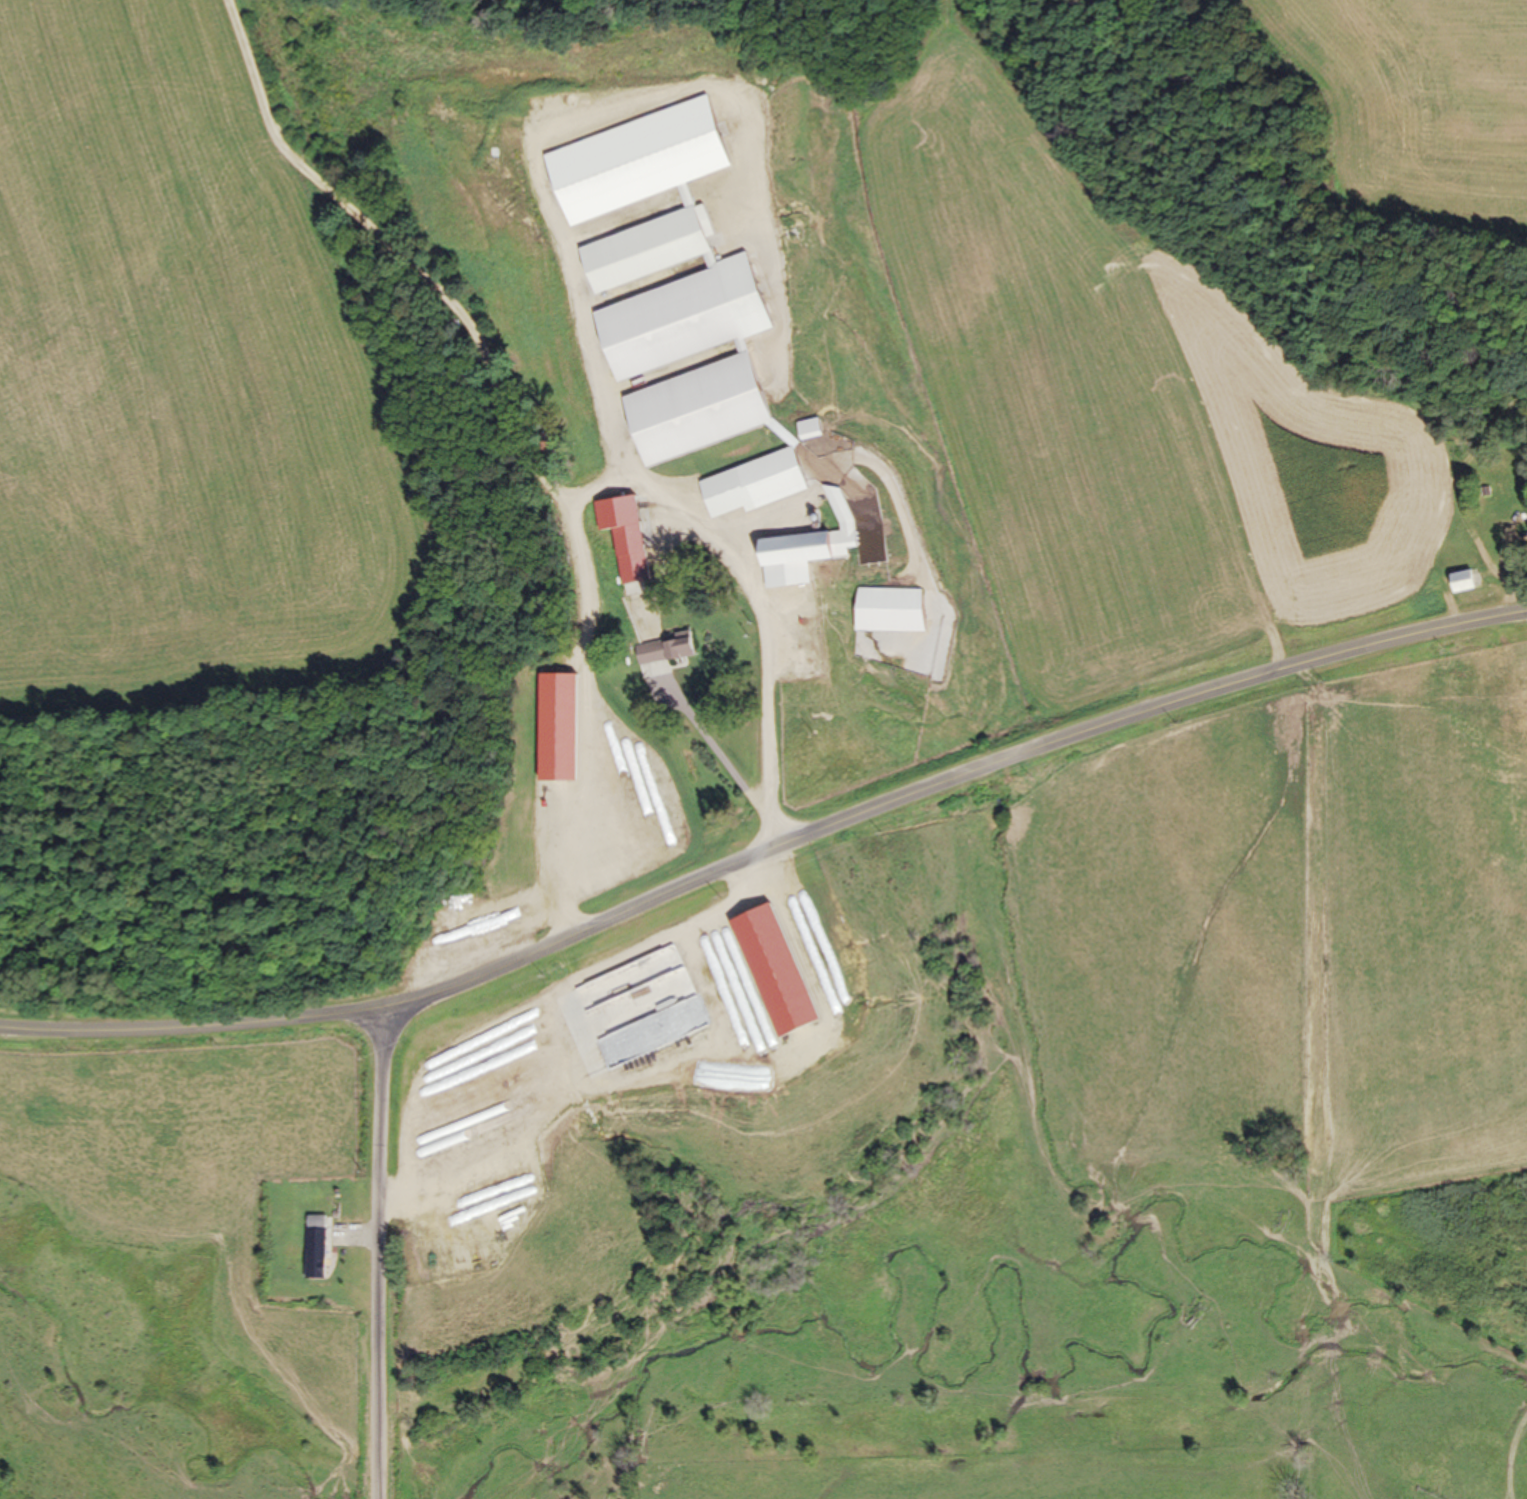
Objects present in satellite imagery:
building: (698, 410)
building: (811, 429)
building: (765, 481)
road: (592, 485)
building: (632, 554)
building: (807, 554)
building: (1465, 581)
building: (891, 602)
building: (680, 647)
building: (1518, 701)
road: (766, 847)
road: (384, 1251)
building: (317, 1252)

